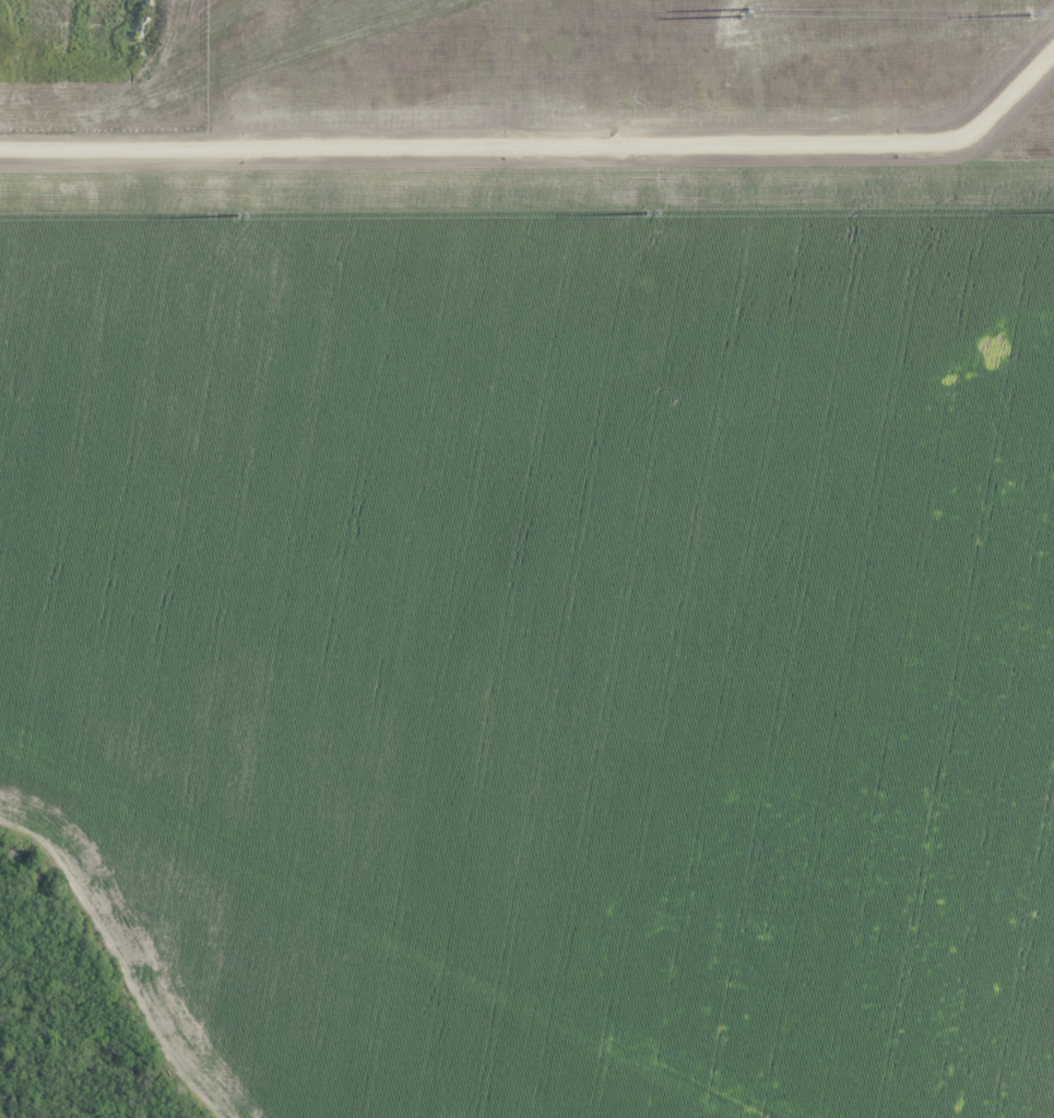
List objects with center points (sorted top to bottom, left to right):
crop: (538, 546)

